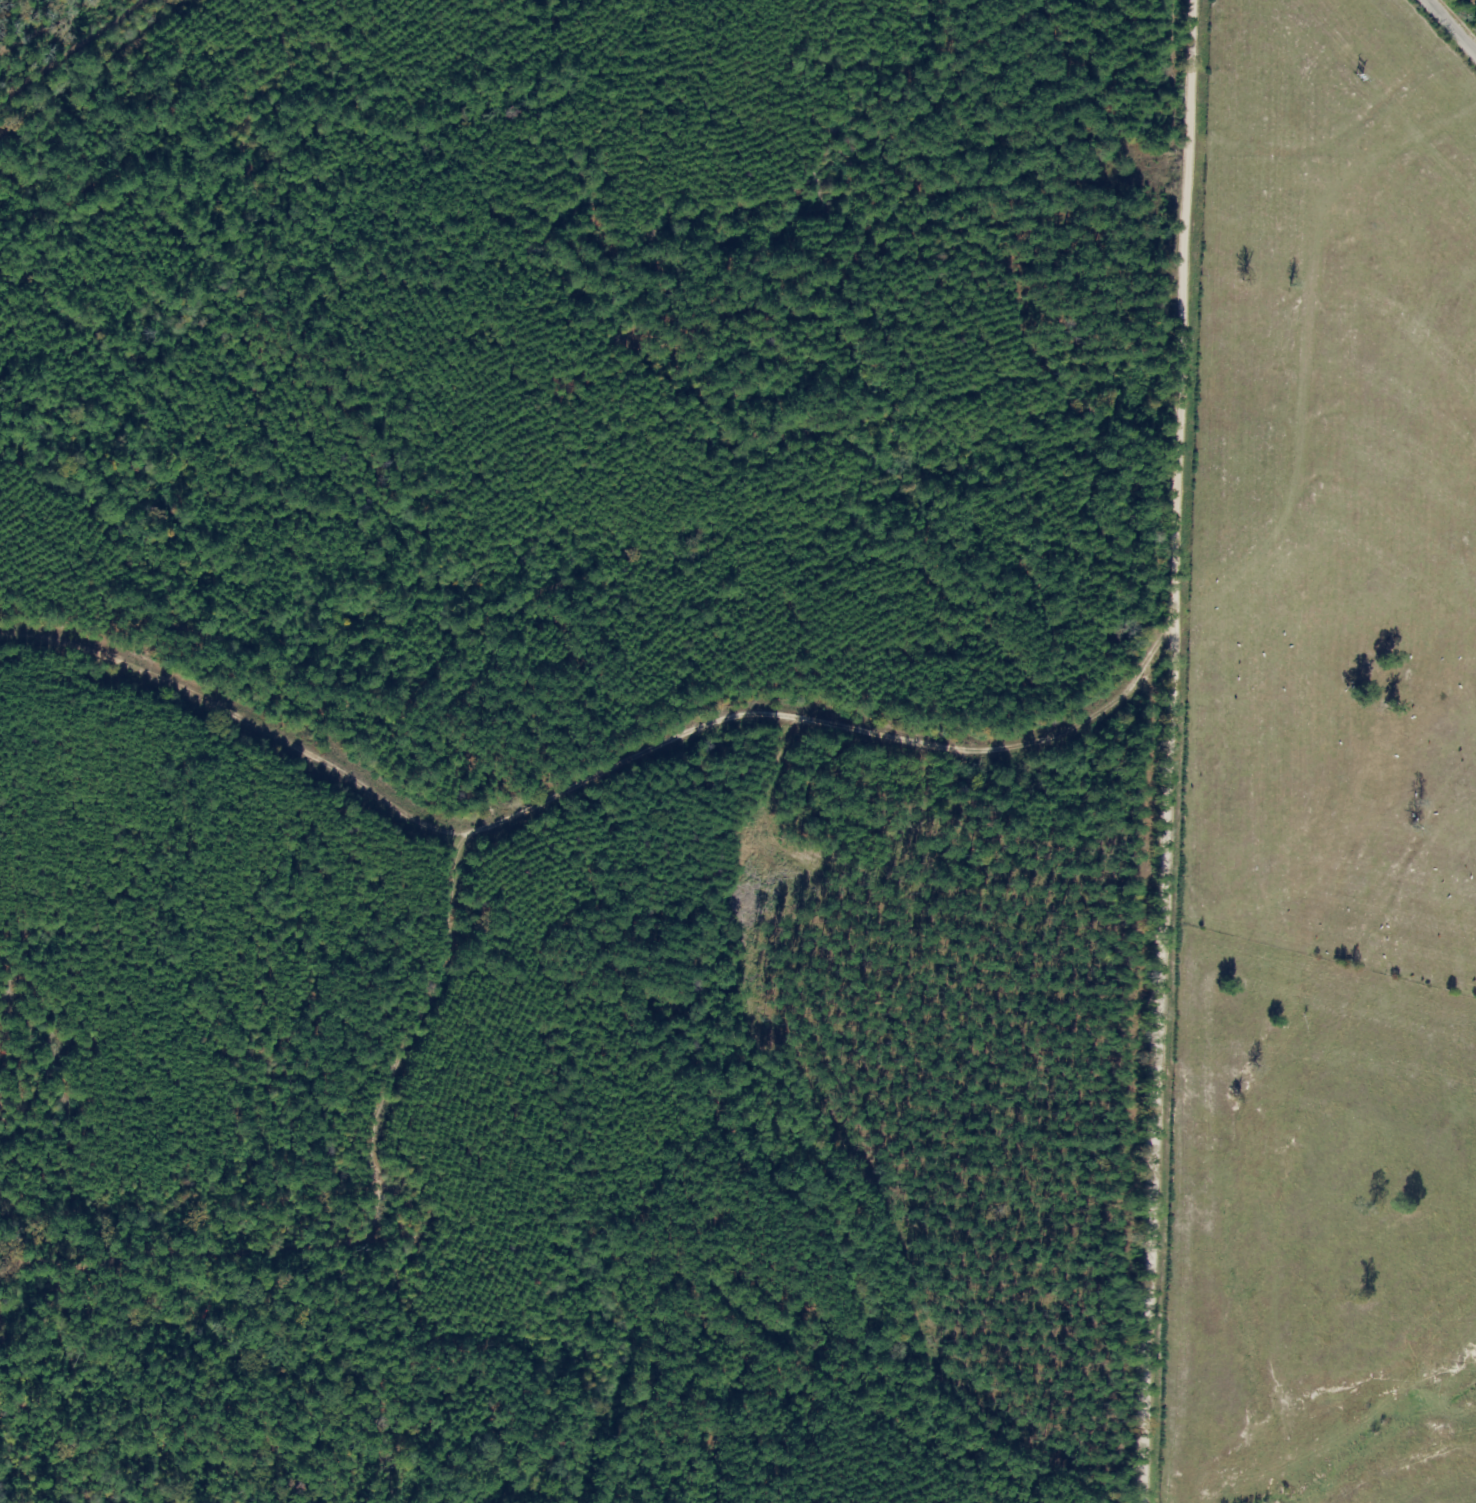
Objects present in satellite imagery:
road: (1448, 30)
road: (1182, 750)

